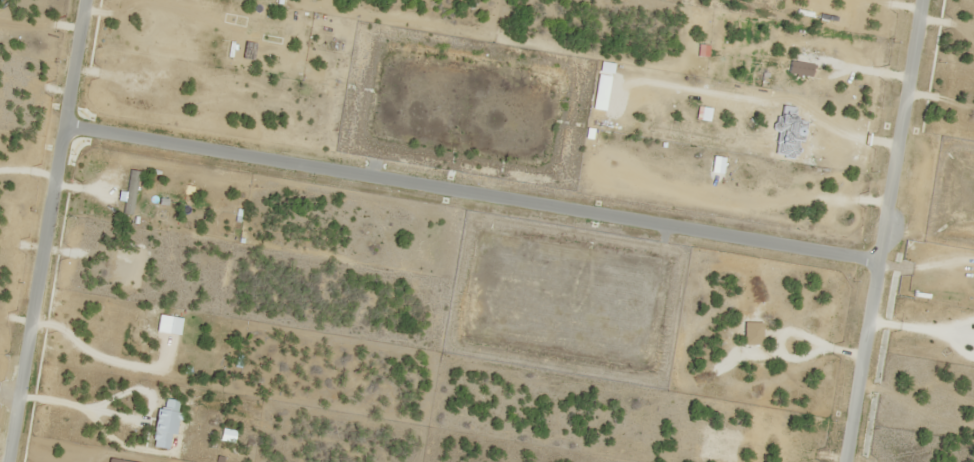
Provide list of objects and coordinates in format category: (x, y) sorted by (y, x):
road: (471, 191)
road: (46, 230)
road: (883, 231)

